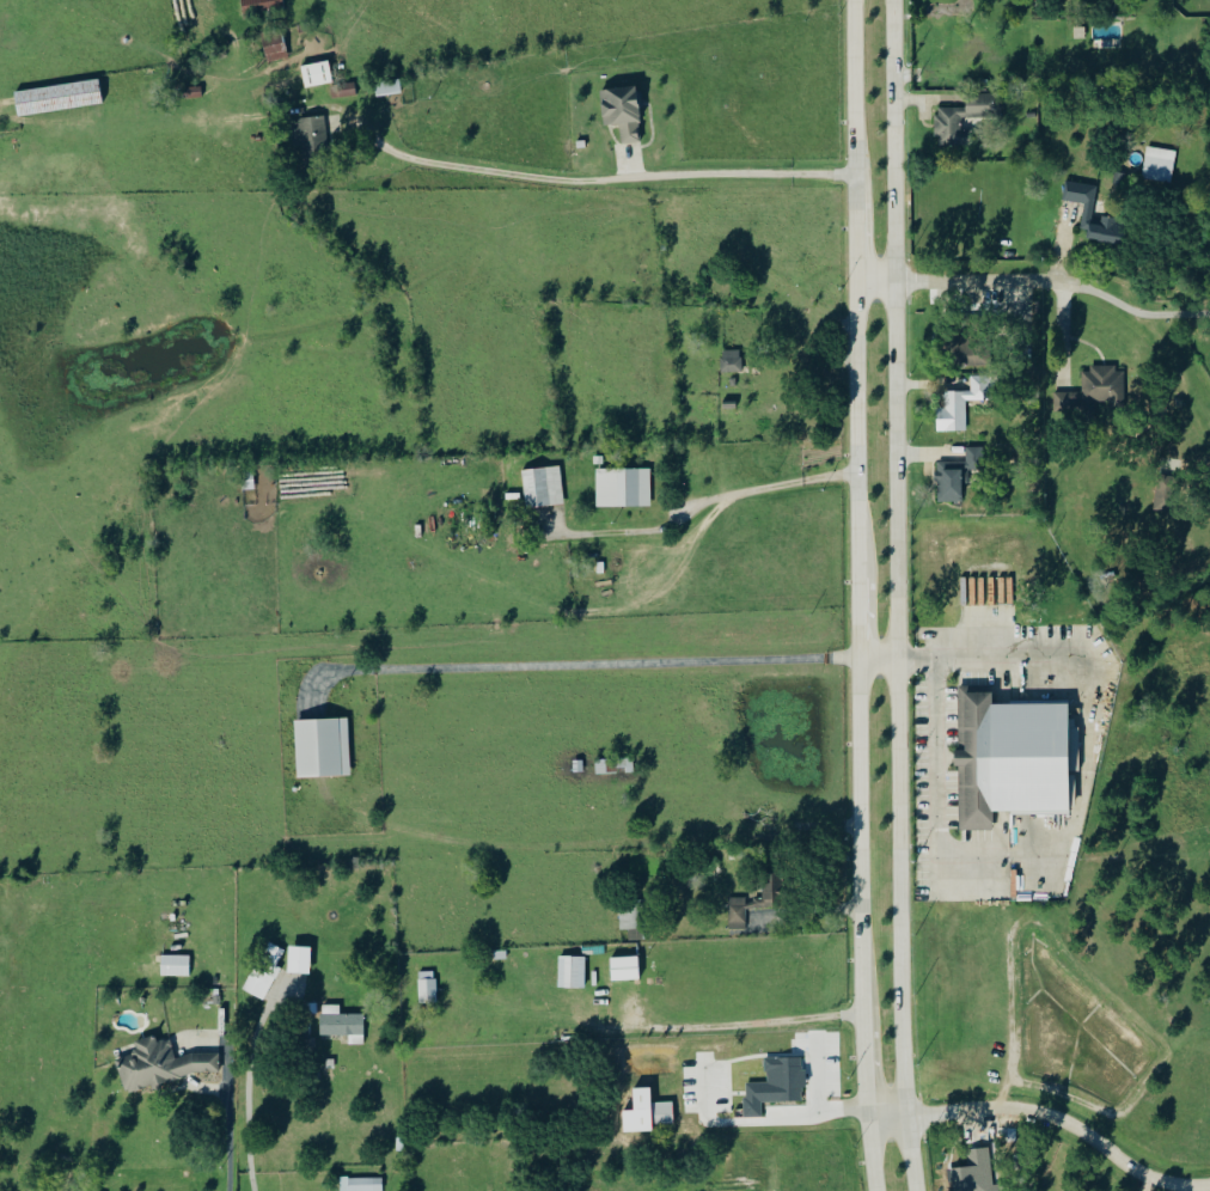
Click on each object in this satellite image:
building: (262, 5)
building: (275, 49)
building: (317, 73)
building: (389, 86)
building: (347, 88)
building: (59, 97)
building: (623, 110)
building: (960, 120)
building: (310, 136)
building: (1160, 164)
road: (583, 176)
building: (1089, 209)
road: (1008, 283)
road: (1181, 317)
building: (732, 360)
building: (1093, 391)
building: (962, 404)
building: (957, 476)
building: (543, 485)
building: (624, 485)
building: (1166, 493)
road: (722, 497)
road: (860, 506)
road: (900, 595)
road: (973, 654)
road: (589, 666)
building: (323, 747)
building: (613, 764)
road: (1001, 853)
building: (757, 900)
road: (807, 911)
building: (299, 959)
building: (176, 965)
building: (625, 969)
building: (265, 971)
building: (573, 972)
building: (428, 985)
building: (343, 1024)
road: (735, 1024)
road: (866, 1063)
building: (161, 1064)
road: (251, 1085)
building: (776, 1085)
road: (808, 1107)
building: (647, 1112)
road: (1046, 1114)
road: (228, 1125)
road: (872, 1152)
building: (971, 1171)
building: (365, 1185)

